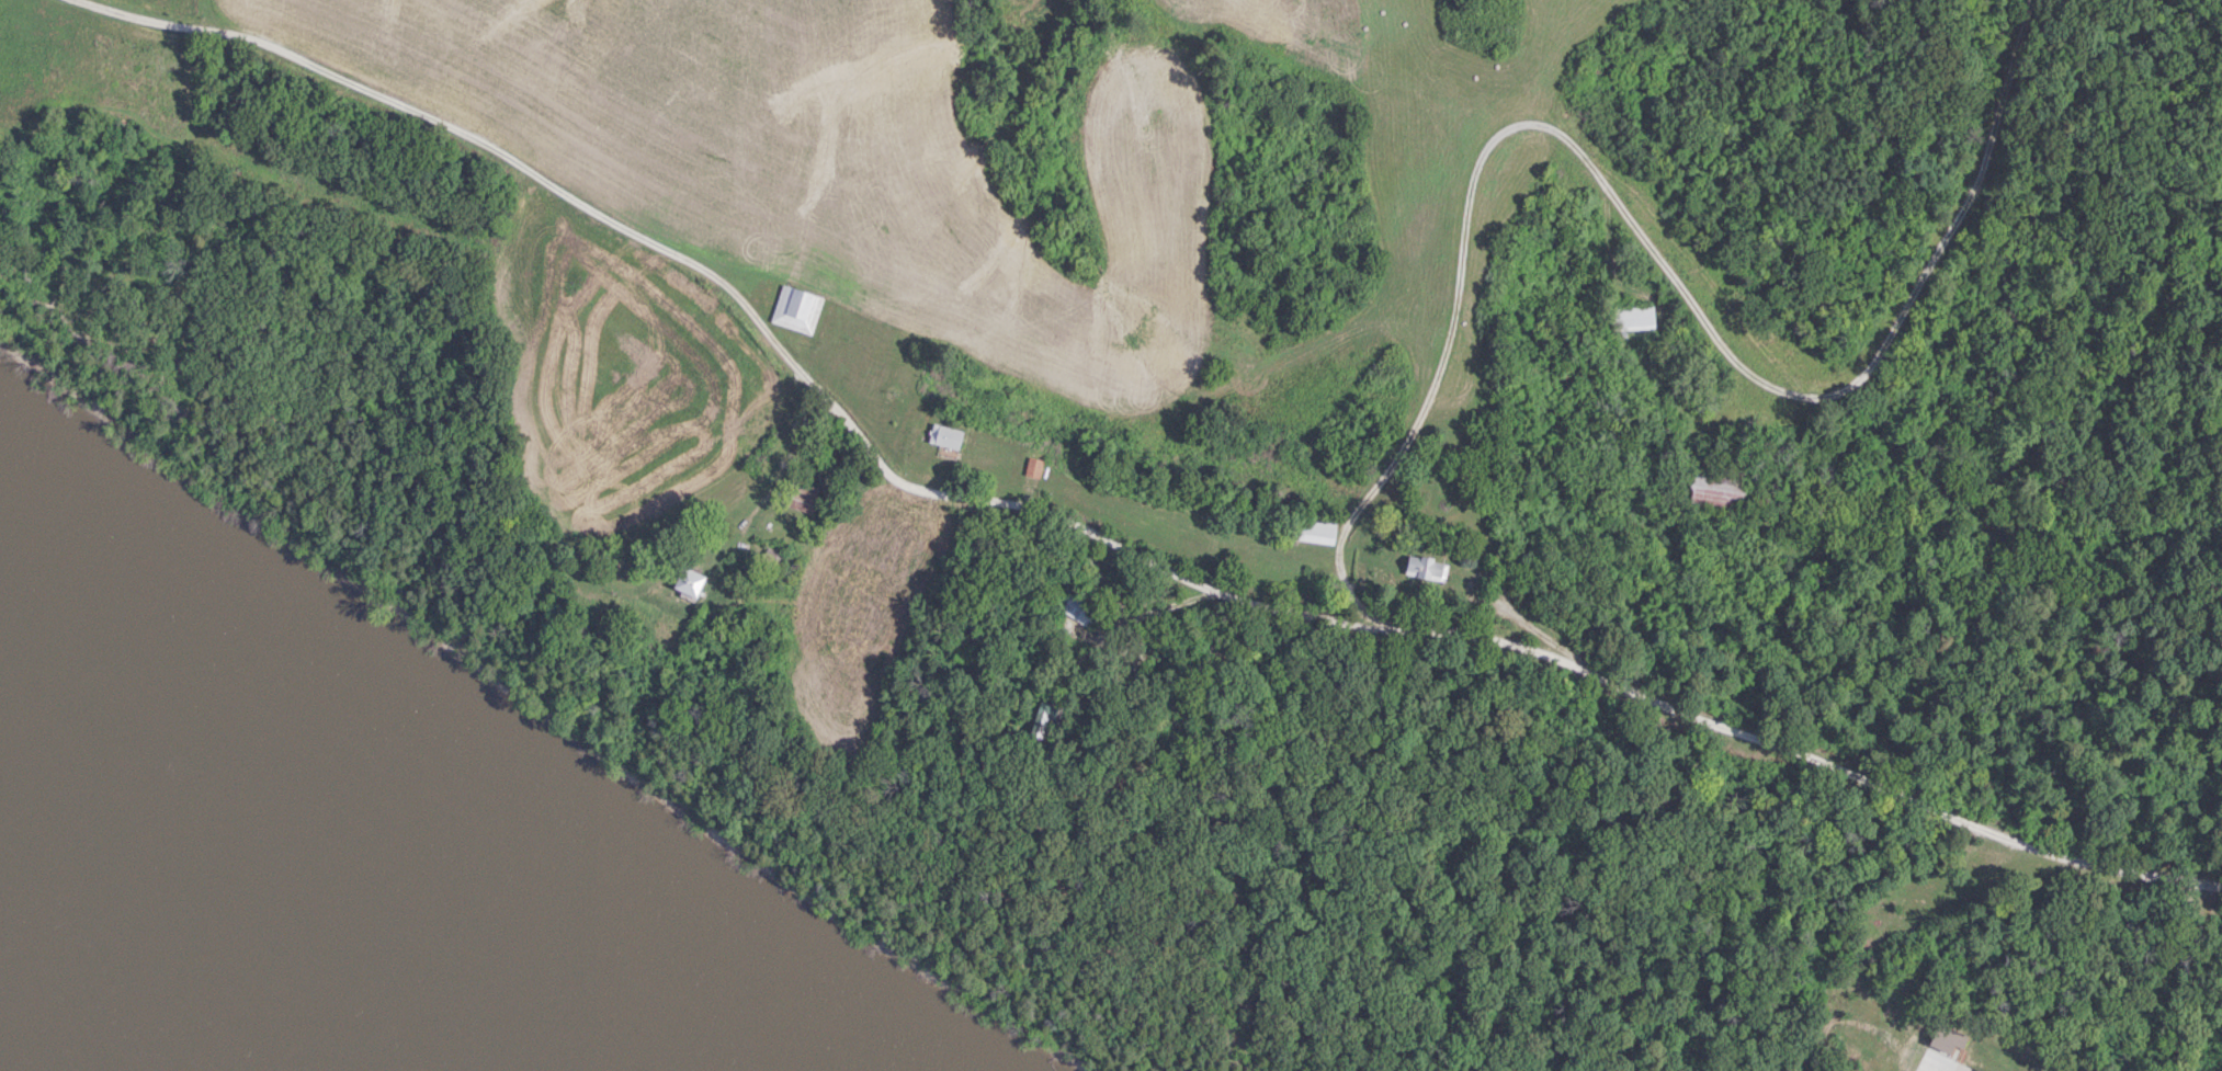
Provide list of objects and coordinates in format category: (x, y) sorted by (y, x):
crop: (170, 7)
road: (307, 60)
road: (1637, 232)
building: (797, 308)
building: (1630, 318)
crop: (619, 373)
building: (946, 435)
building: (1034, 466)
building: (1714, 490)
building: (802, 495)
road: (815, 498)
building: (1319, 531)
building: (1428, 567)
building: (690, 583)
building: (1078, 608)
road: (1317, 616)
building: (1050, 709)
building: (1942, 1040)
road: (1918, 1067)
building: (1973, 1070)

